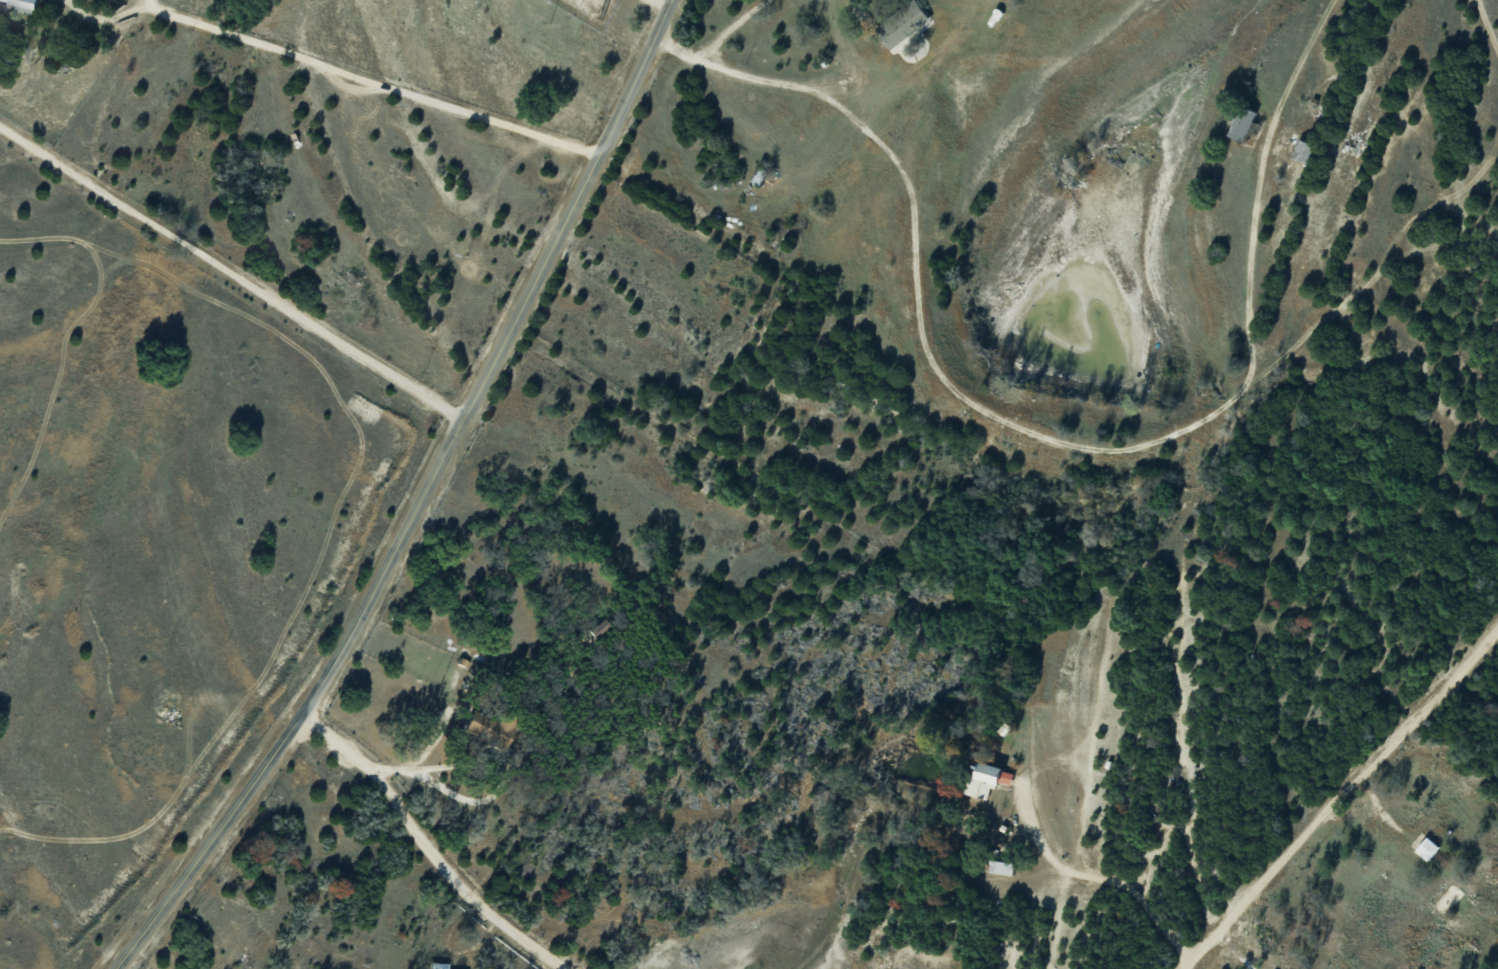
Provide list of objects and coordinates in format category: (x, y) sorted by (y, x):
building: (21, 2)
road: (668, 2)
road: (670, 14)
building: (902, 24)
road: (372, 79)
building: (1242, 124)
building: (1302, 150)
road: (234, 269)
road: (1001, 421)
road: (416, 516)
road: (425, 754)
building: (1005, 776)
building: (983, 779)
road: (1344, 800)
building: (1426, 847)
road: (429, 848)
building: (1001, 867)
road: (1104, 875)

